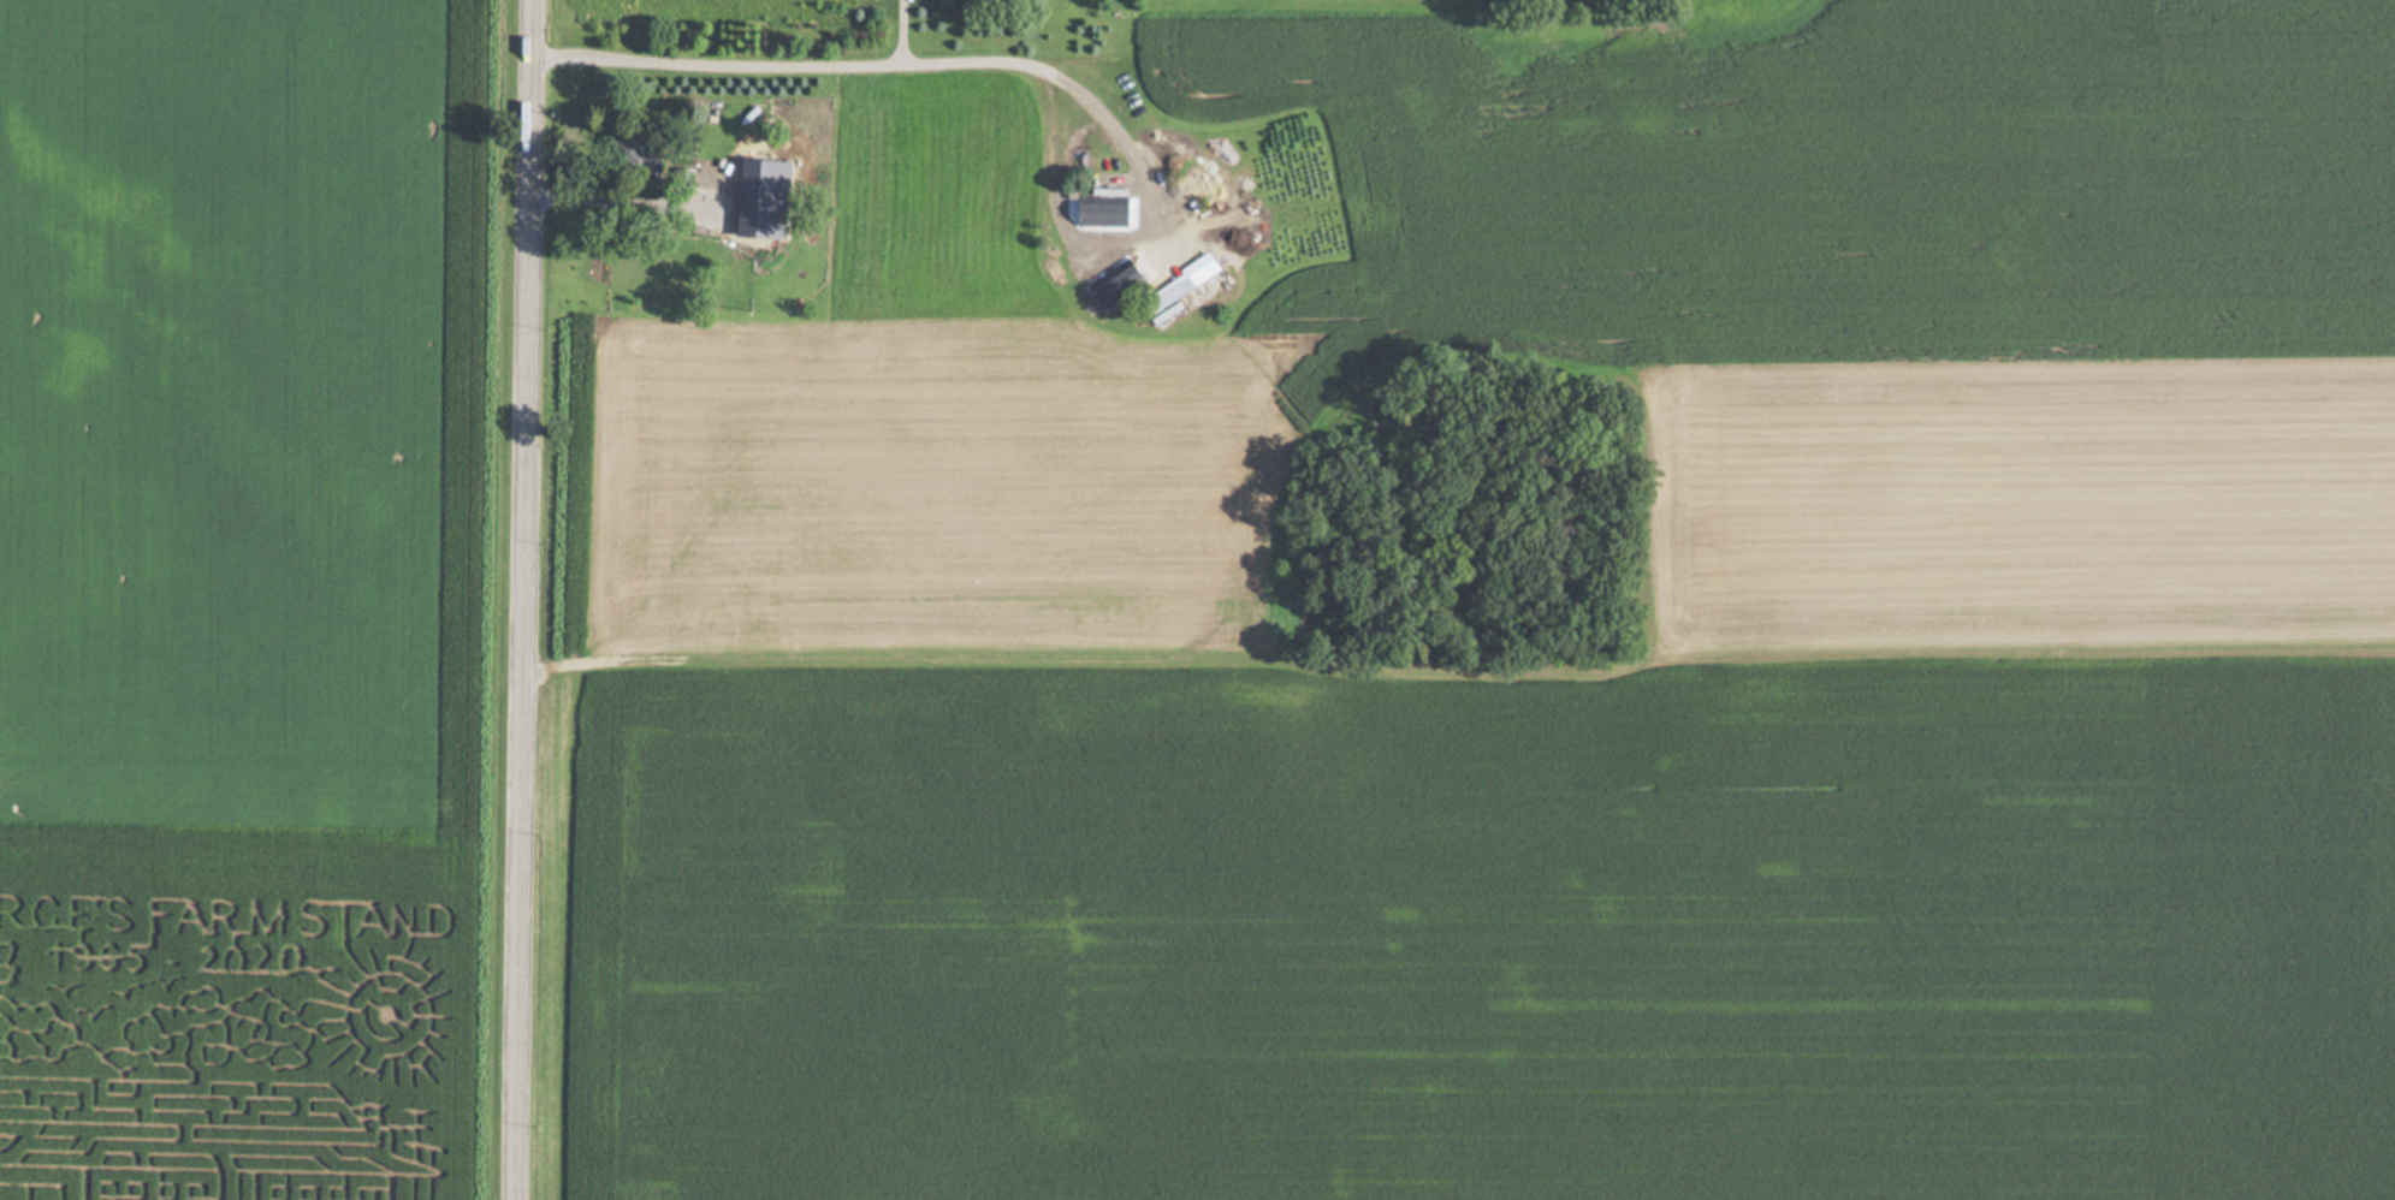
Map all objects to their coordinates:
road: (901, 30)
road: (888, 60)
building: (765, 191)
building: (1105, 210)
building: (1182, 283)
road: (520, 599)

